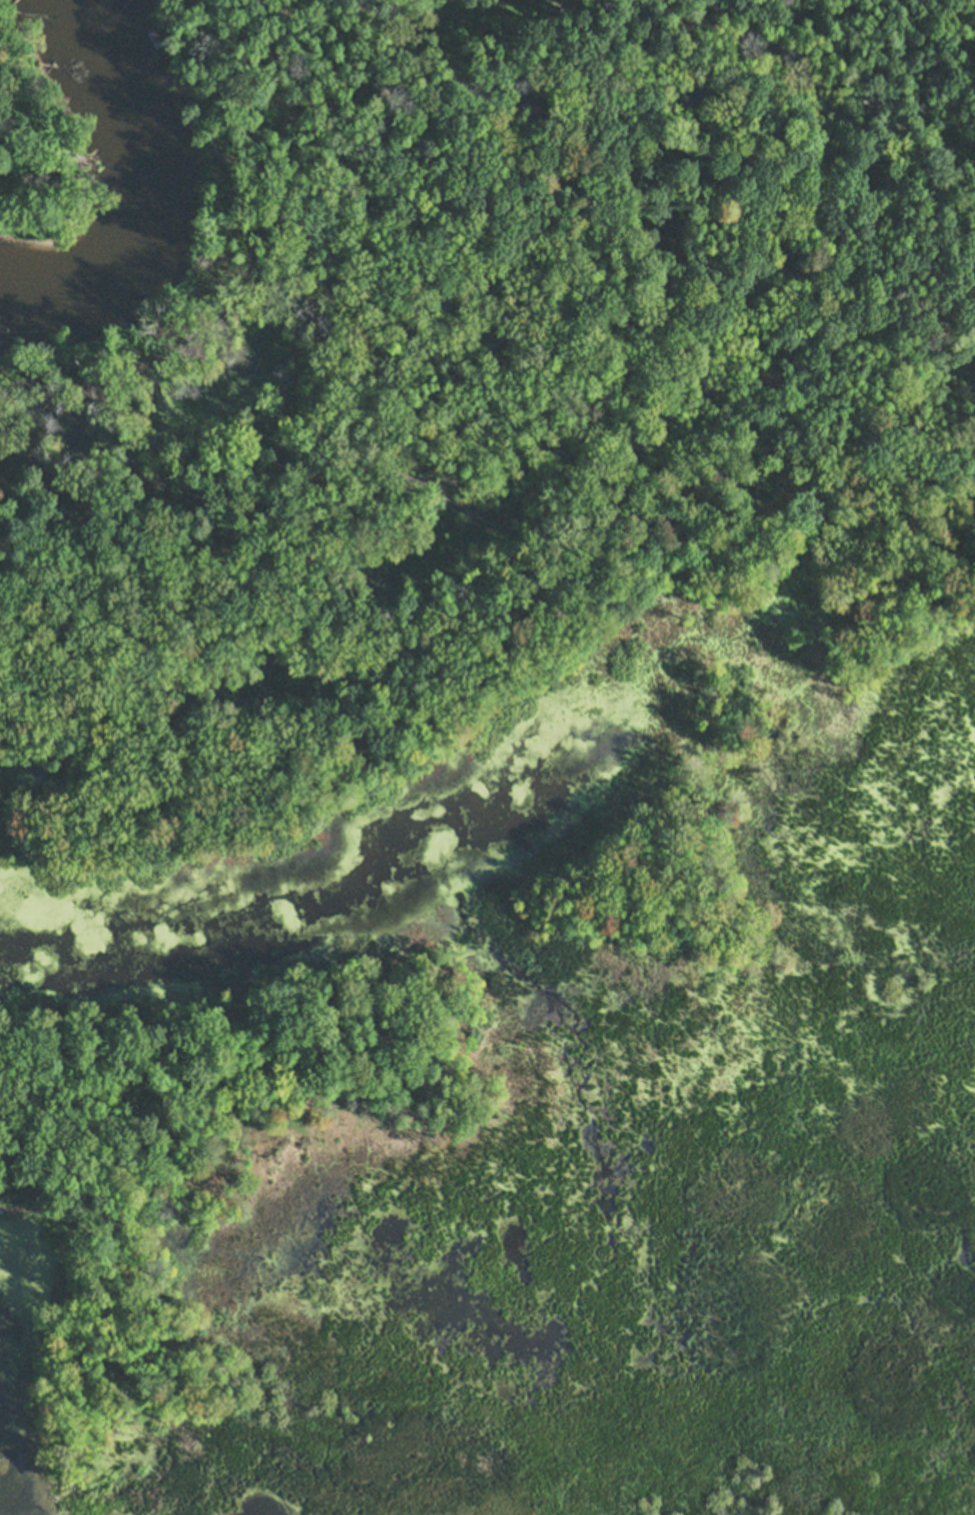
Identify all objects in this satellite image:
river: (142, 187)

